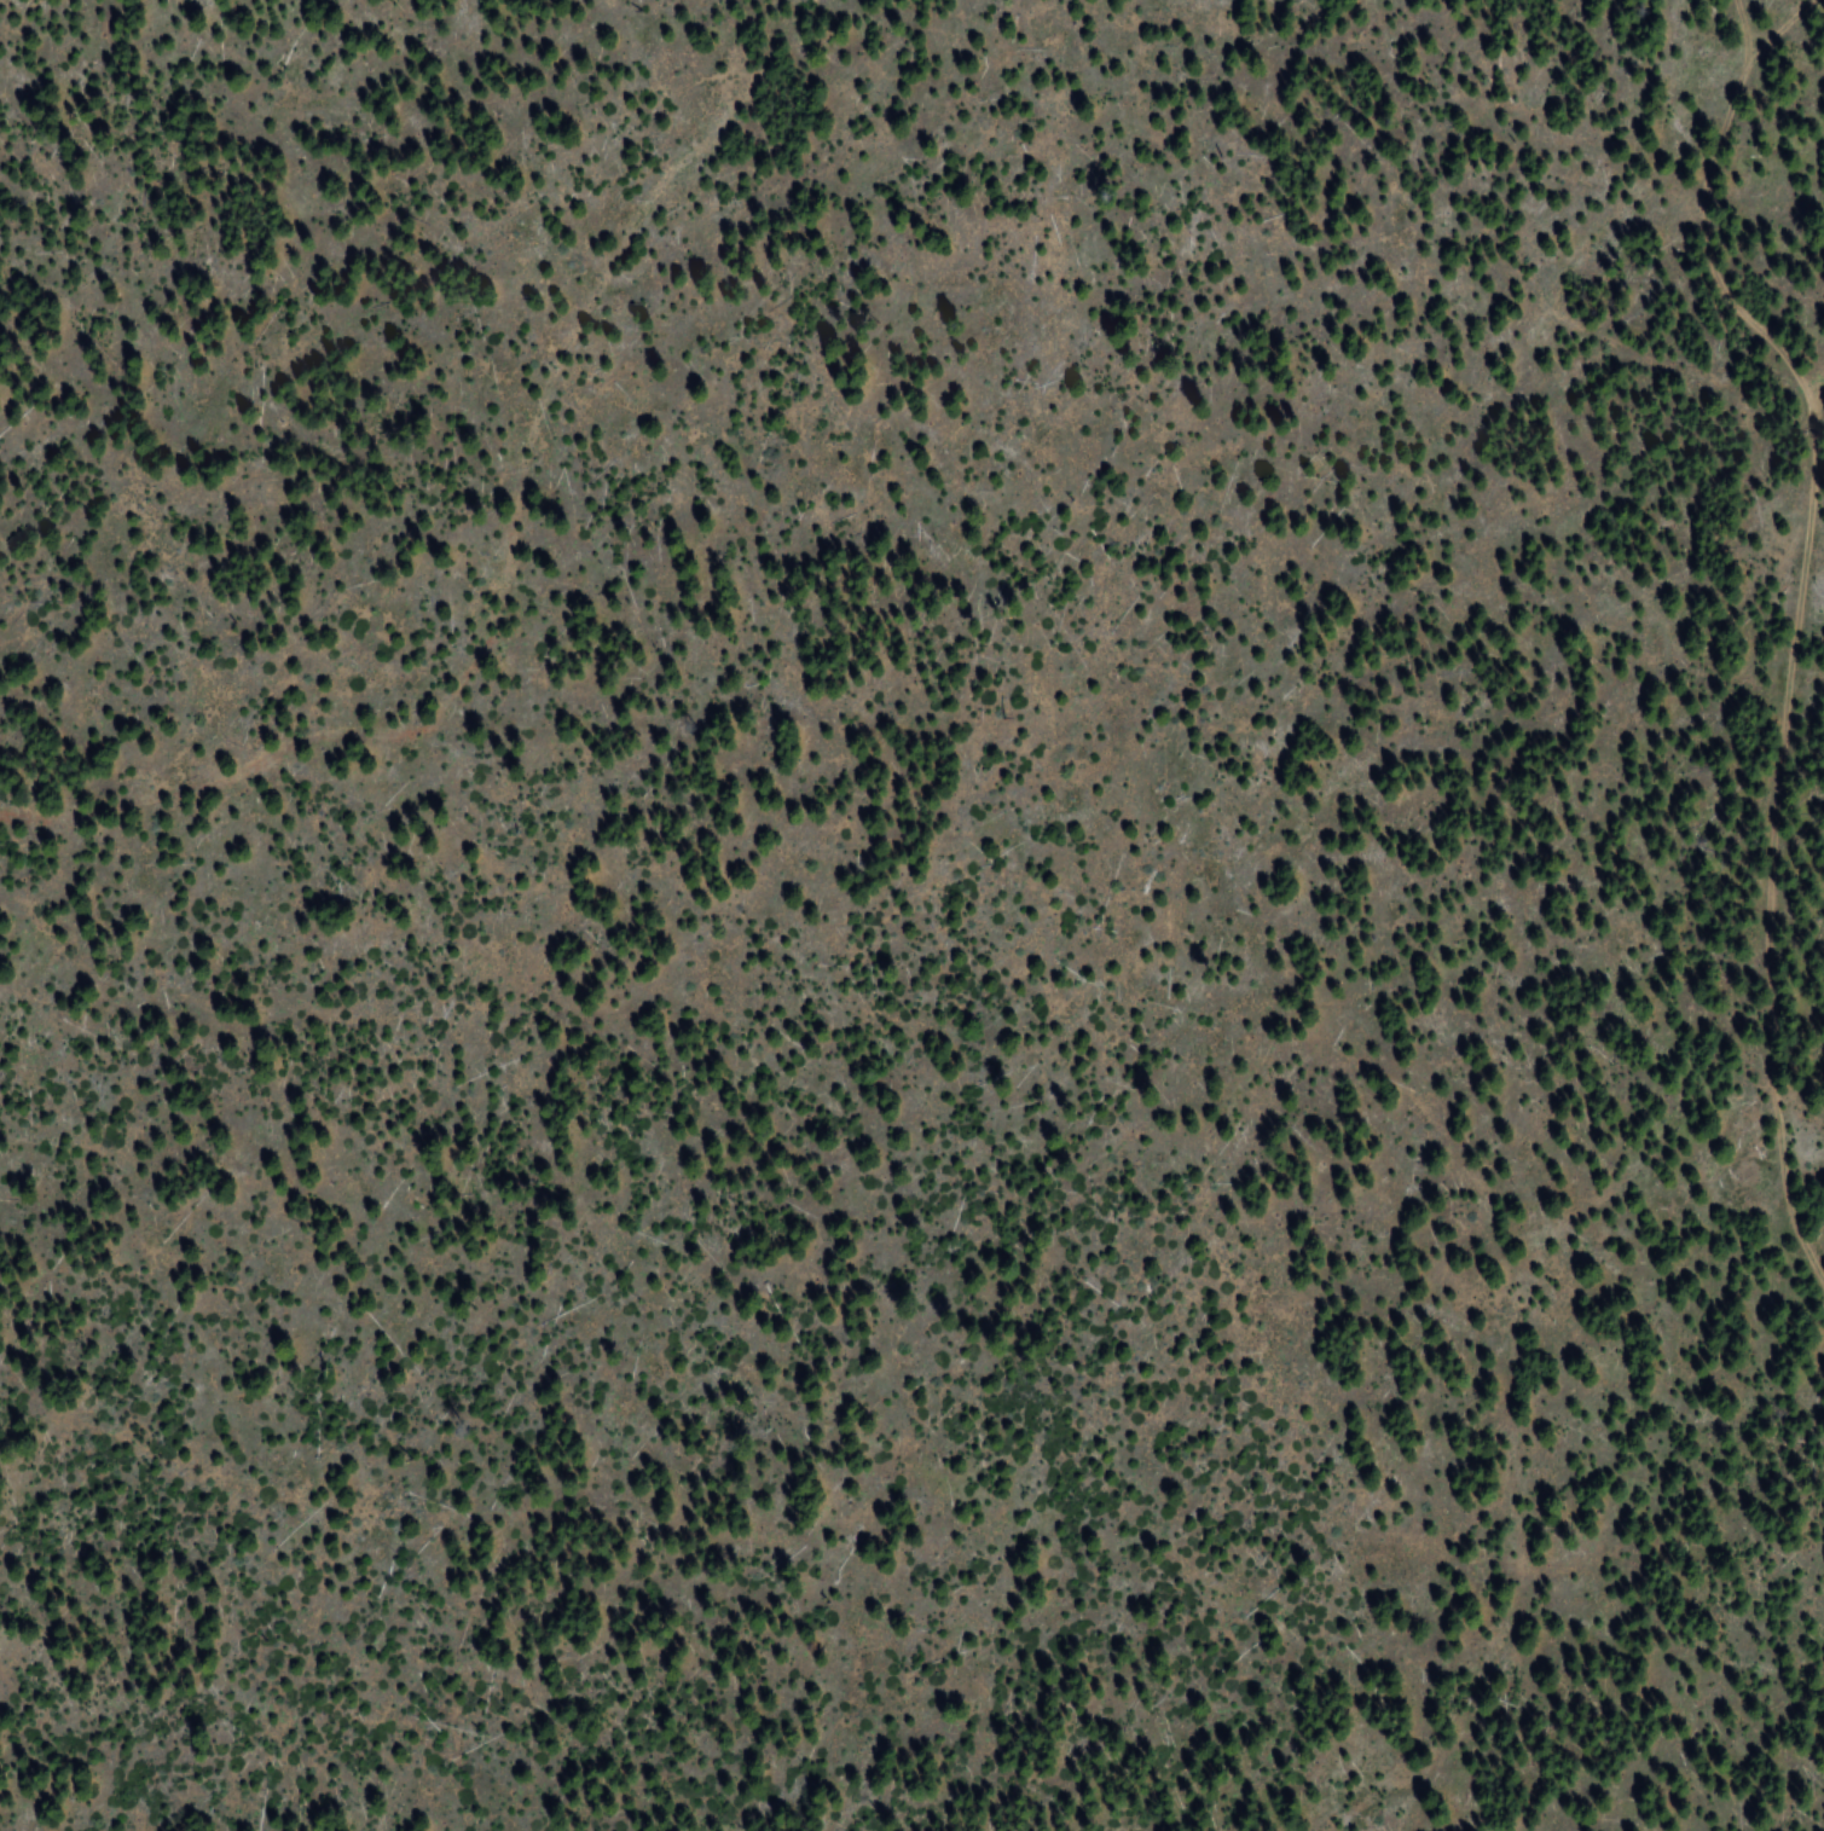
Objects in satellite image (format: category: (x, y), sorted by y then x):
road: (1774, 27)
road: (1816, 393)
road: (1793, 624)

